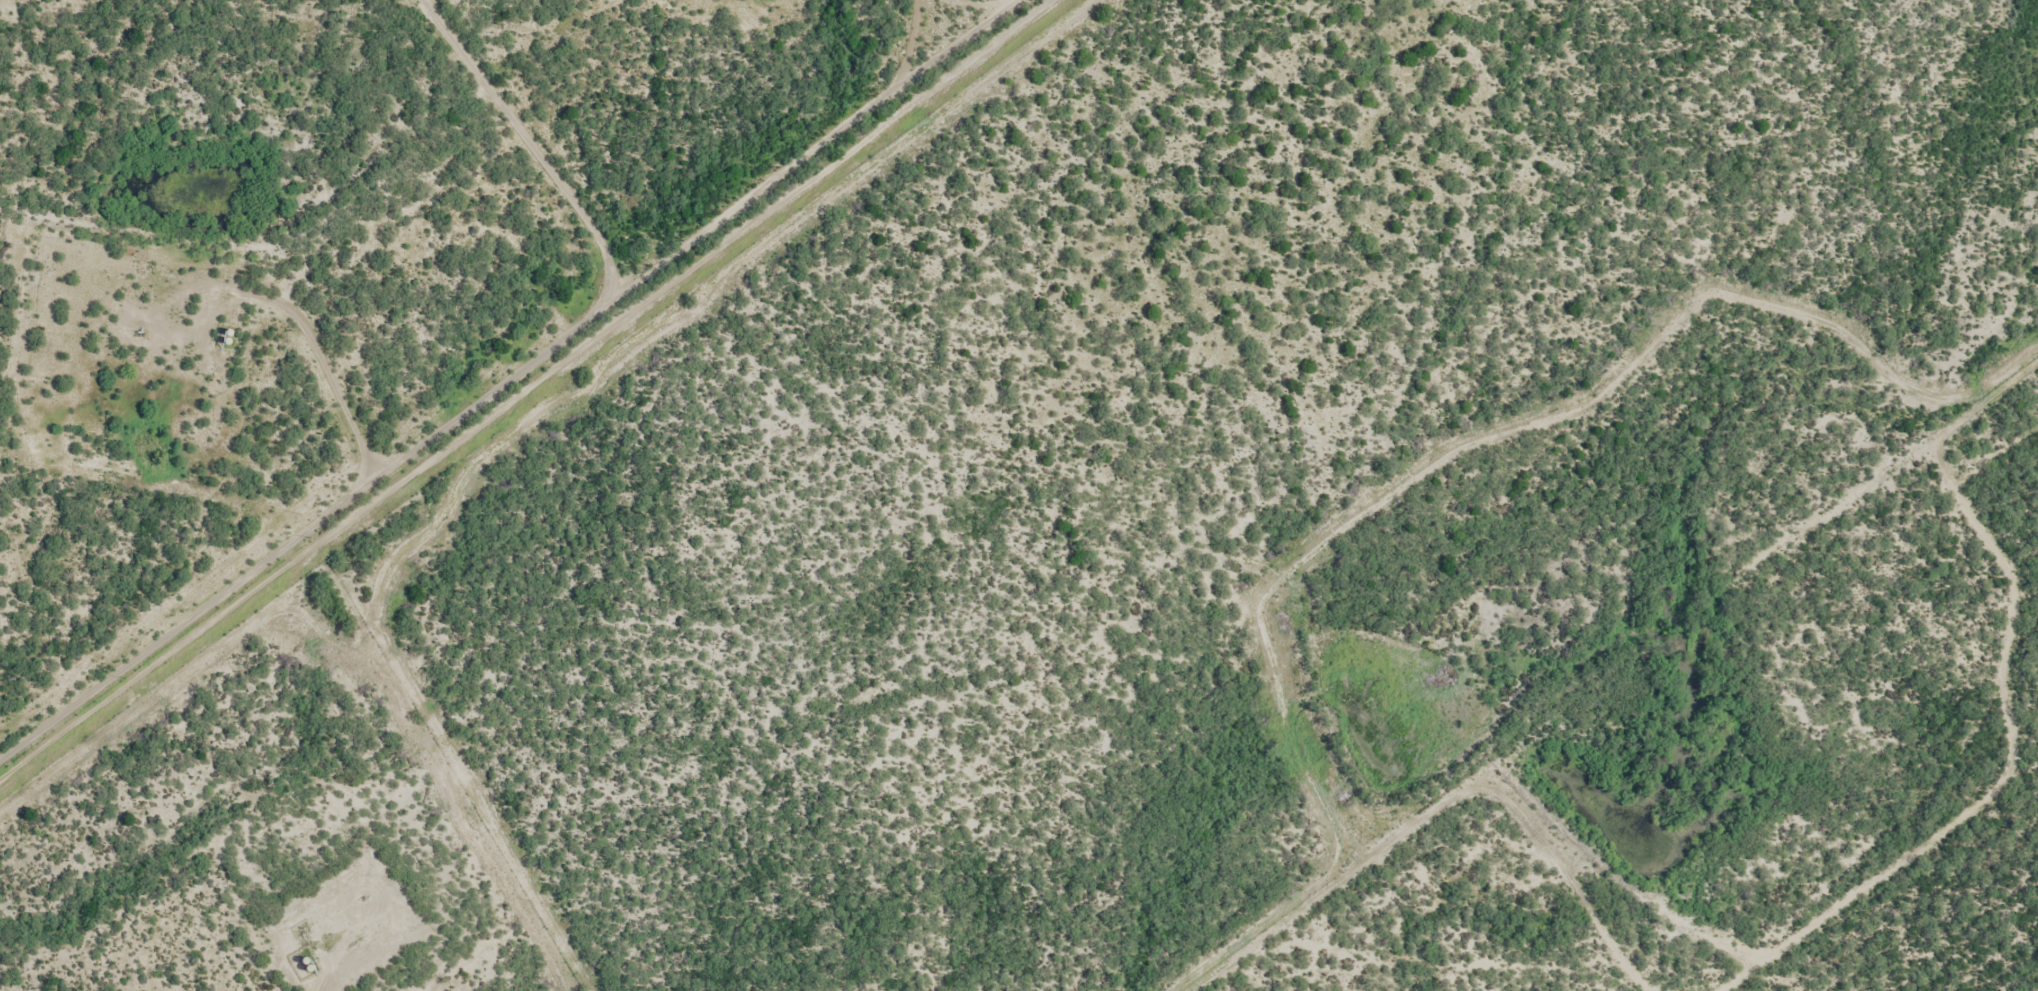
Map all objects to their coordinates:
road: (538, 396)

